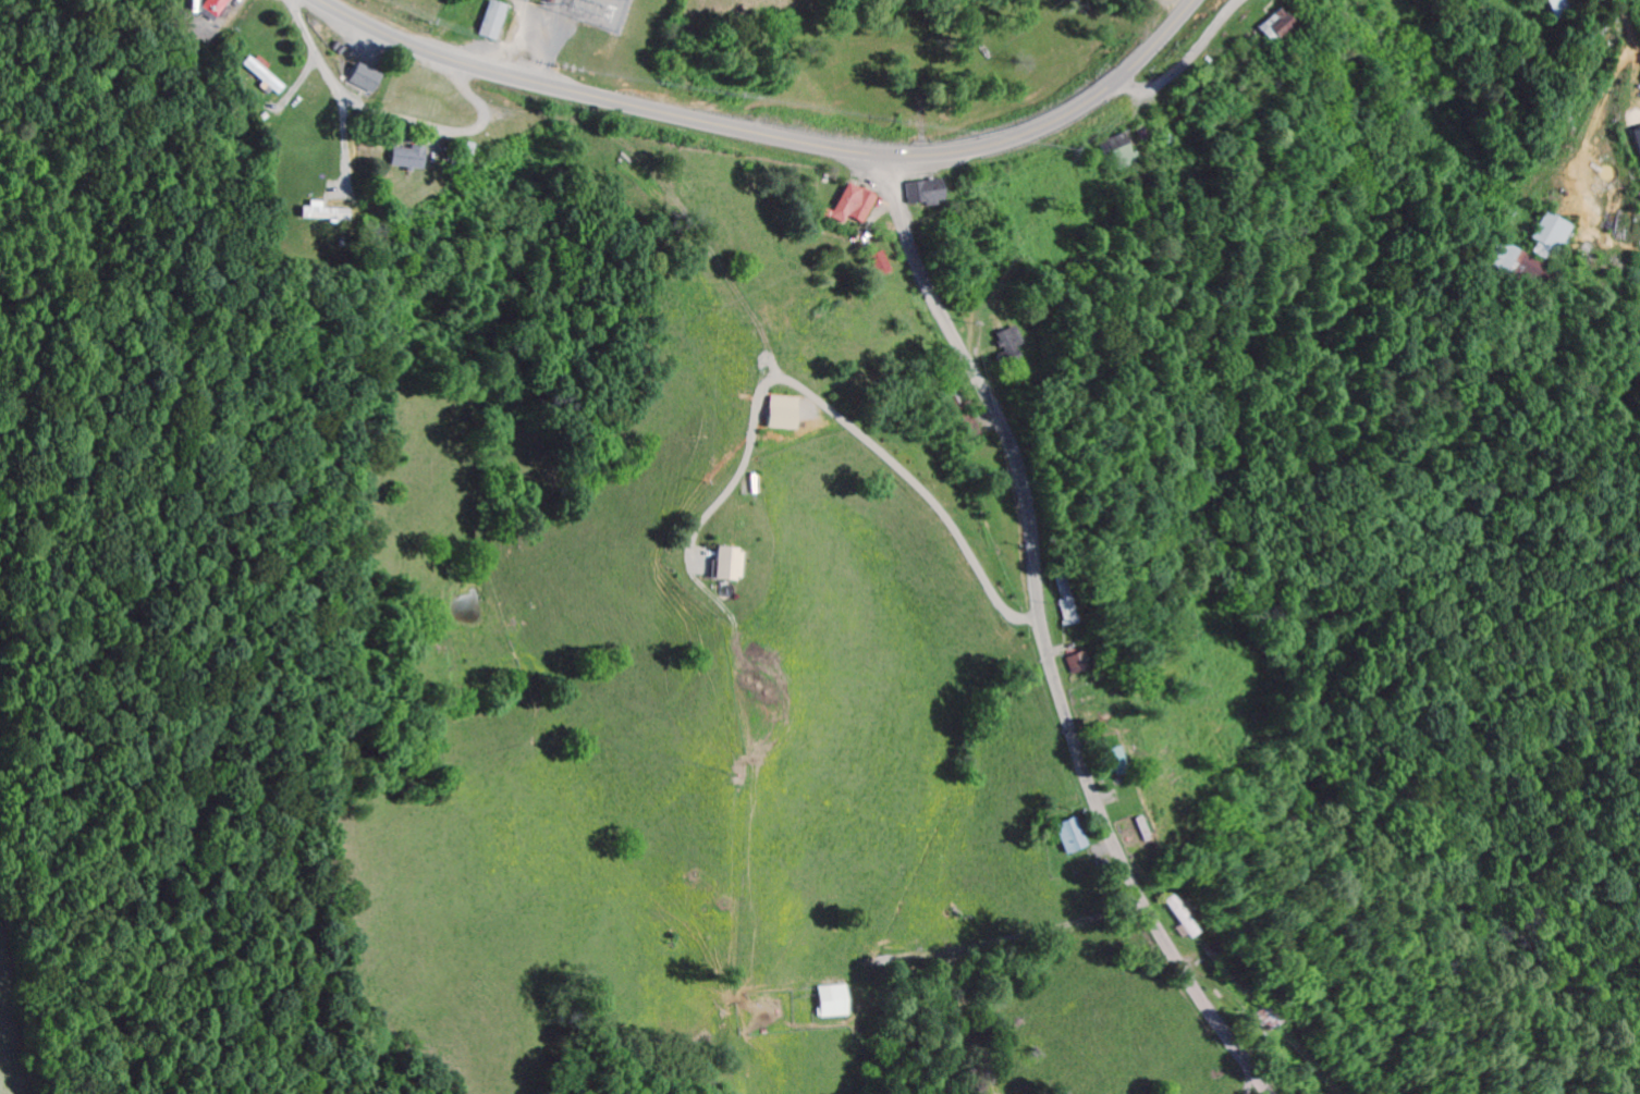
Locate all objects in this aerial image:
building: (210, 8)
power substation: (586, 8)
building: (489, 24)
building: (1269, 28)
road: (1185, 61)
building: (256, 75)
building: (359, 81)
road: (772, 135)
building: (1117, 155)
building: (402, 160)
building: (918, 195)
building: (848, 208)
building: (319, 217)
building: (1545, 237)
building: (1510, 265)
building: (874, 267)
building: (1004, 347)
road: (837, 414)
building: (965, 429)
building: (723, 566)
building: (1062, 613)
road: (1043, 648)
building: (1070, 666)
building: (1104, 762)
building: (1066, 838)
building: (828, 1004)

